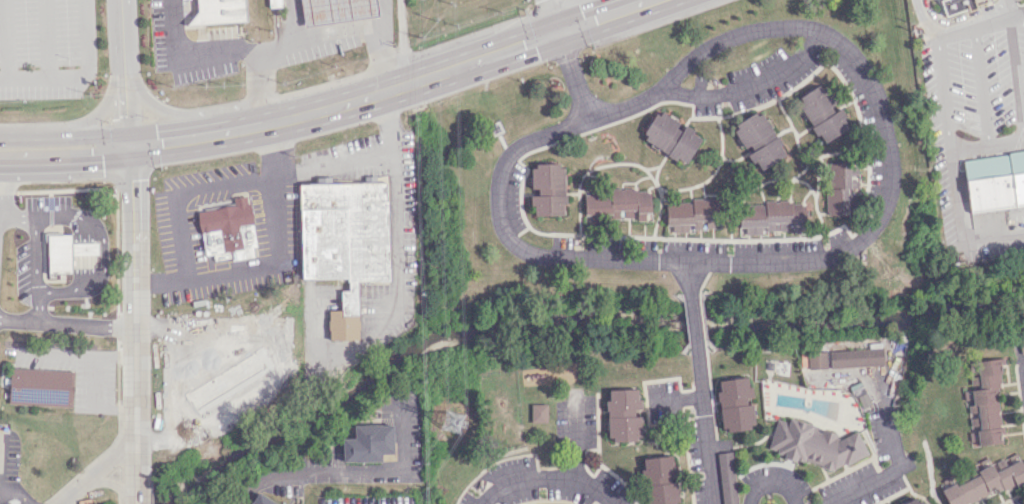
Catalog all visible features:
road: (274, 3)
building: (275, 3)
building: (958, 5)
road: (1013, 7)
building: (336, 10)
gas station: (336, 10)
building: (219, 11)
road: (552, 16)
road: (603, 16)
road: (962, 17)
road: (292, 20)
road: (924, 21)
road: (277, 24)
road: (981, 25)
traffic signals: (558, 32)
road: (328, 33)
road: (732, 37)
road: (6, 39)
road: (47, 40)
parking lot: (186, 47)
parking lot: (45, 48)
road: (381, 57)
road: (185, 60)
road: (470, 62)
road: (124, 72)
road: (574, 75)
road: (81, 78)
road: (1016, 79)
road: (260, 85)
road: (980, 88)
road: (946, 97)
parking lot: (970, 101)
road: (106, 107)
road: (168, 111)
building: (822, 112)
road: (257, 125)
building: (670, 136)
road: (65, 137)
building: (758, 140)
traffic signals: (130, 146)
road: (989, 148)
road: (66, 162)
road: (331, 165)
building: (994, 181)
building: (841, 187)
building: (547, 188)
road: (182, 191)
road: (2, 192)
building: (618, 203)
building: (691, 214)
building: (771, 217)
road: (1, 220)
road: (18, 220)
road: (963, 227)
parking lot: (1018, 229)
building: (227, 231)
road: (393, 234)
building: (344, 242)
building: (83, 248)
road: (103, 251)
building: (58, 253)
road: (34, 256)
road: (586, 260)
road: (274, 264)
road: (690, 279)
road: (36, 305)
road: (693, 321)
road: (66, 322)
road: (132, 325)
building: (1021, 345)
road: (76, 353)
building: (855, 357)
building: (816, 360)
building: (41, 387)
road: (178, 387)
road: (675, 399)
building: (862, 399)
building: (985, 403)
building: (734, 404)
building: (538, 412)
building: (622, 414)
power tower: (453, 421)
road: (702, 424)
building: (367, 443)
building: (813, 444)
road: (575, 468)
road: (94, 474)
road: (350, 474)
building: (726, 478)
building: (659, 480)
road: (771, 482)
road: (870, 482)
building: (985, 482)
road: (526, 488)
road: (13, 491)
building: (261, 499)
building: (914, 501)

